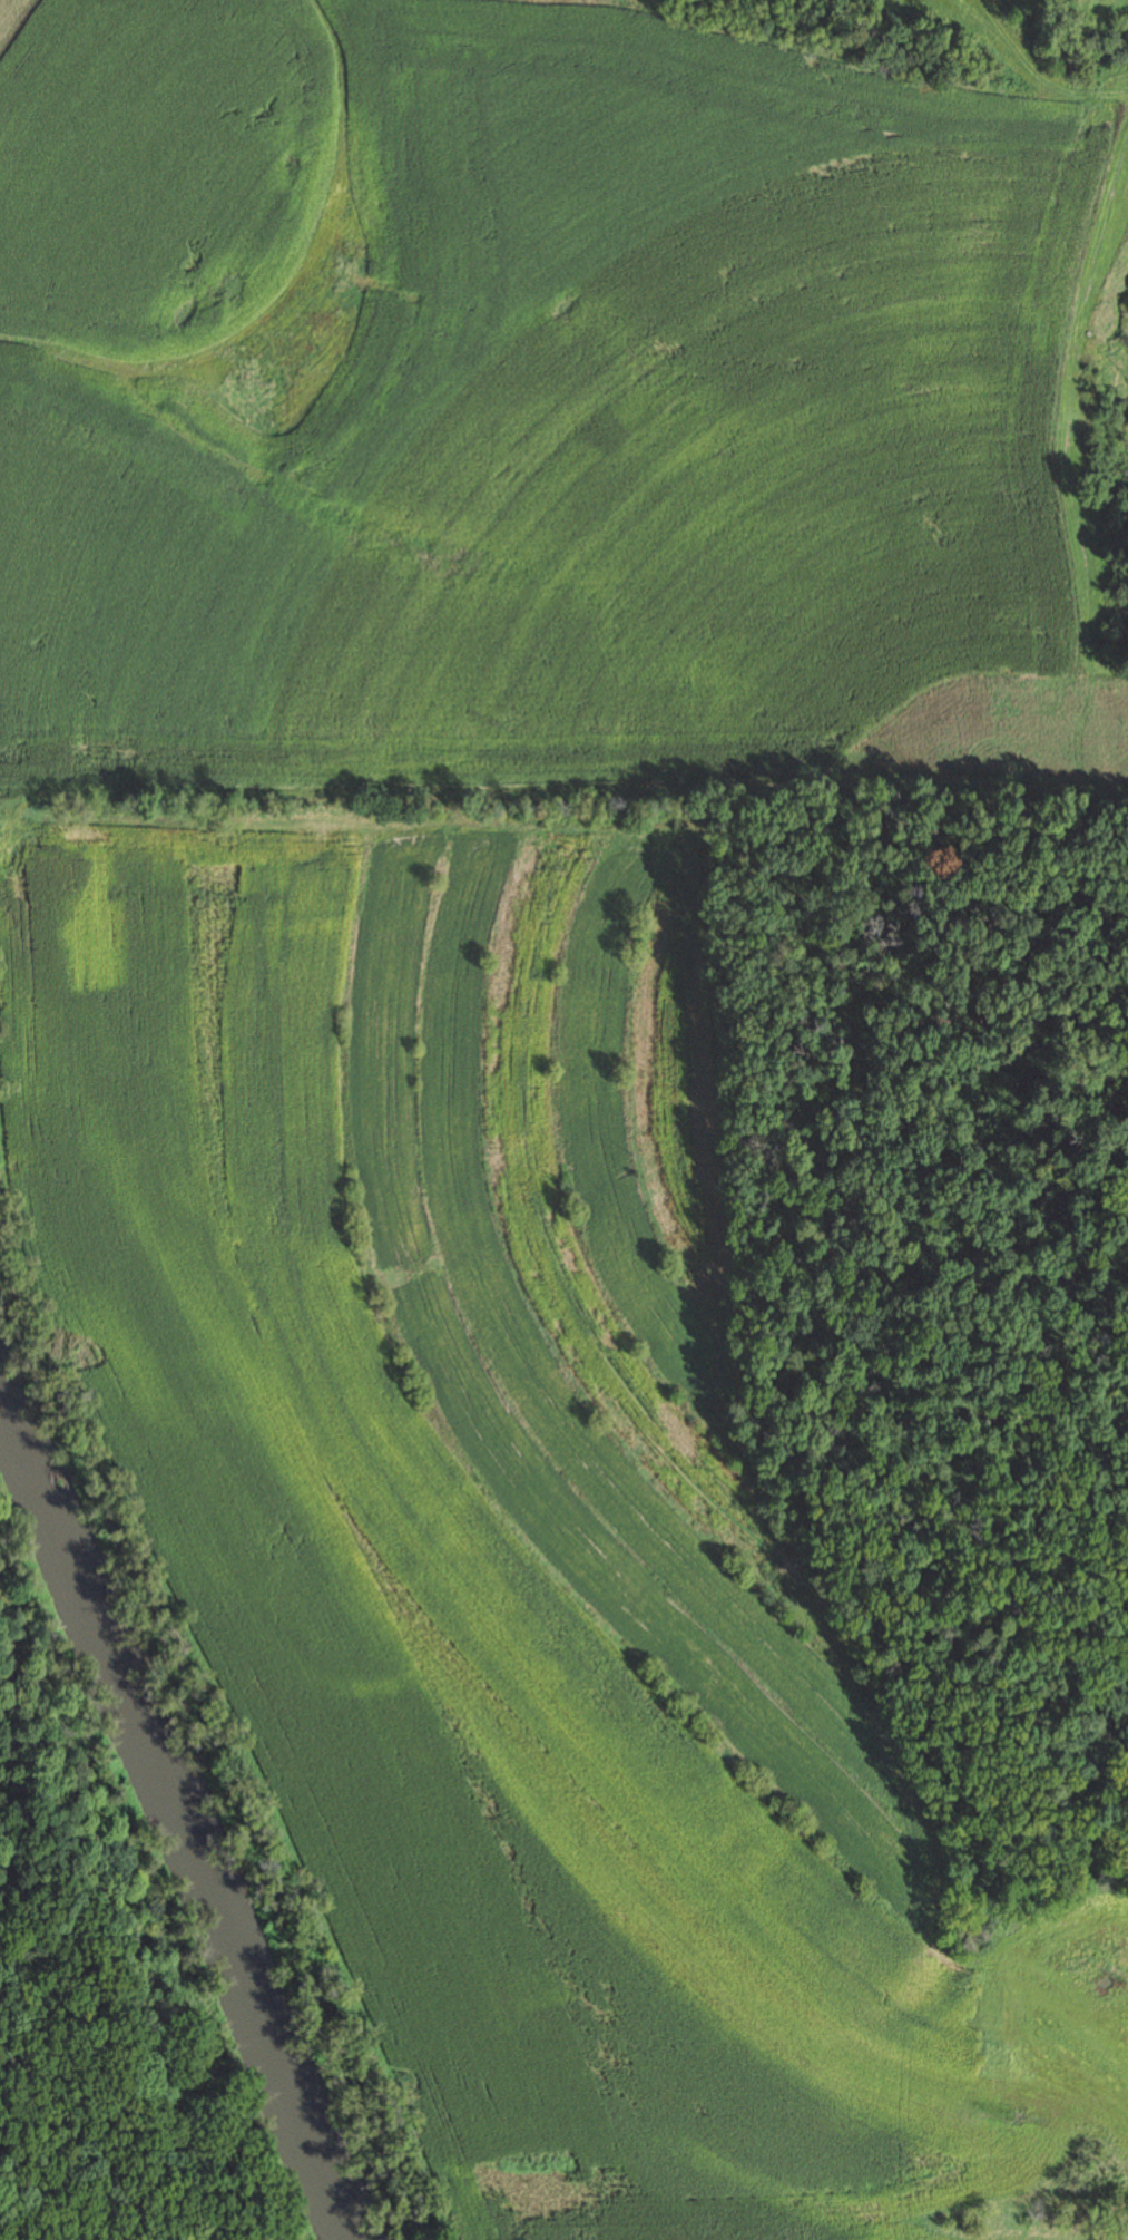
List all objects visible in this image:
river: (190, 1852)

